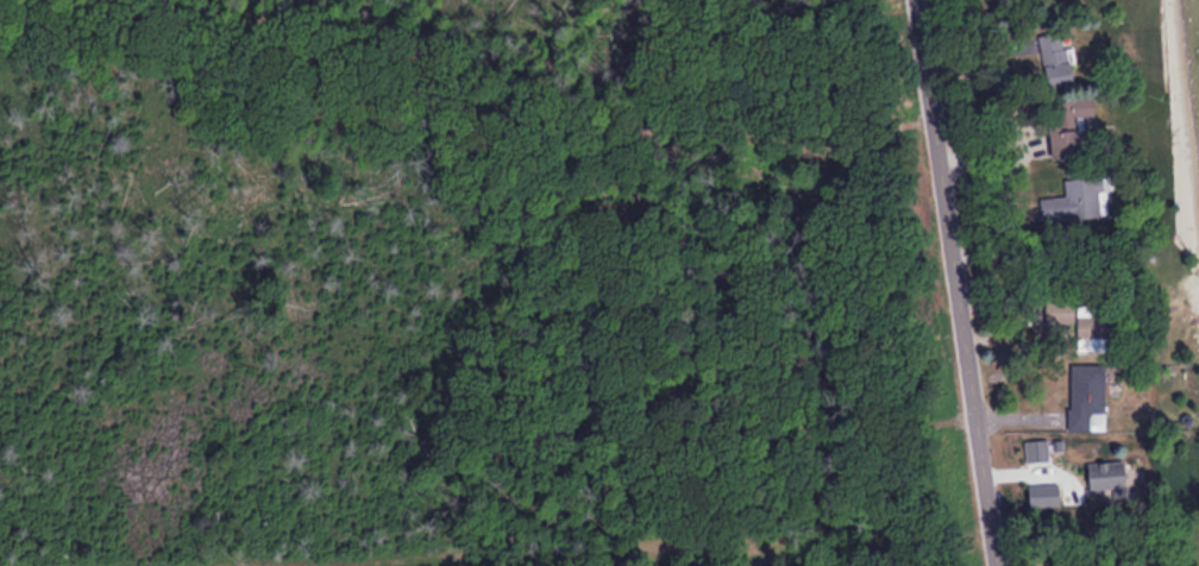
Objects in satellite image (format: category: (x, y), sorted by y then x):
building: (1053, 58)
building: (1063, 127)
building: (1074, 199)
road: (954, 283)
building: (1055, 310)
building: (1084, 401)
building: (1101, 473)

